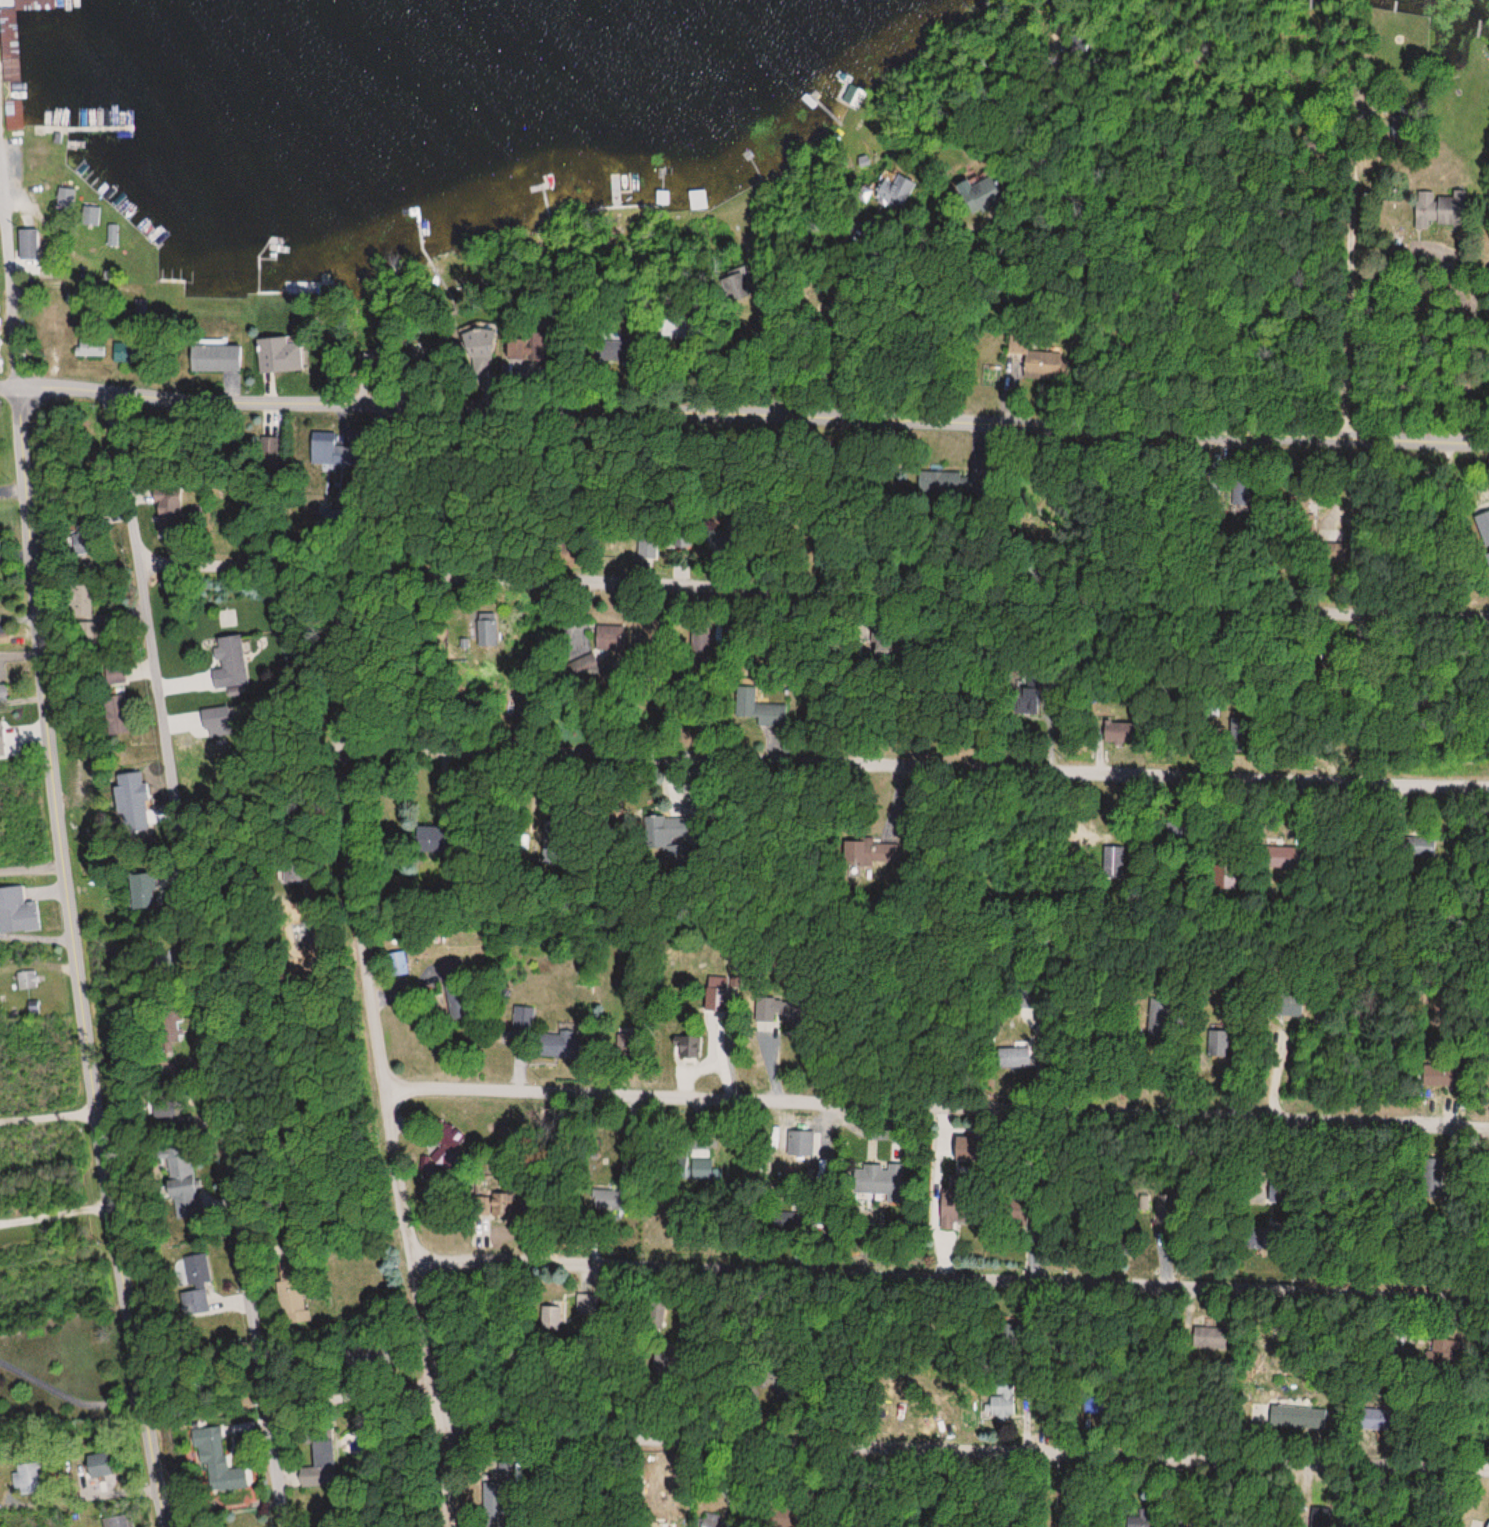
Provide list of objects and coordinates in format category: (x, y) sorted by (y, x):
road: (1063, 98)
building: (697, 199)
road: (1, 205)
building: (1437, 209)
building: (90, 216)
building: (112, 237)
road: (1142, 264)
road: (1353, 270)
road: (11, 279)
building: (740, 286)
road: (915, 312)
road: (925, 322)
building: (1026, 345)
building: (89, 349)
building: (279, 354)
road: (1013, 355)
building: (215, 356)
road: (785, 362)
road: (740, 379)
road: (743, 424)
building: (326, 448)
building: (180, 516)
building: (1483, 524)
building: (85, 546)
building: (1488, 552)
building: (685, 571)
road: (815, 599)
building: (82, 600)
building: (487, 629)
building: (226, 666)
building: (113, 675)
building: (2, 692)
road: (19, 709)
building: (112, 709)
building: (775, 709)
building: (1119, 731)
building: (3, 747)
road: (917, 770)
building: (675, 827)
building: (428, 839)
building: (1284, 857)
building: (1116, 862)
building: (138, 901)
building: (17, 911)
road: (74, 958)
building: (397, 964)
road: (37, 965)
road: (198, 965)
building: (450, 965)
building: (26, 979)
building: (1031, 998)
building: (1285, 1005)
road: (372, 1006)
building: (1219, 1043)
building: (557, 1045)
building: (688, 1048)
building: (1488, 1054)
building: (1018, 1056)
building: (1440, 1074)
road: (938, 1103)
road: (47, 1107)
building: (1434, 1171)
building: (878, 1180)
building: (189, 1196)
building: (608, 1200)
road: (54, 1207)
building: (1256, 1237)
road: (57, 1264)
road: (947, 1280)
building: (555, 1317)
road: (340, 1384)
building: (1009, 1401)
building: (1298, 1417)
building: (1376, 1419)
road: (962, 1447)
building: (324, 1454)
building: (218, 1464)
building: (97, 1470)
road: (451, 1475)
building: (500, 1493)
road: (79, 1507)
building: (712, 1520)
building: (119, 1521)
building: (1487, 1523)

